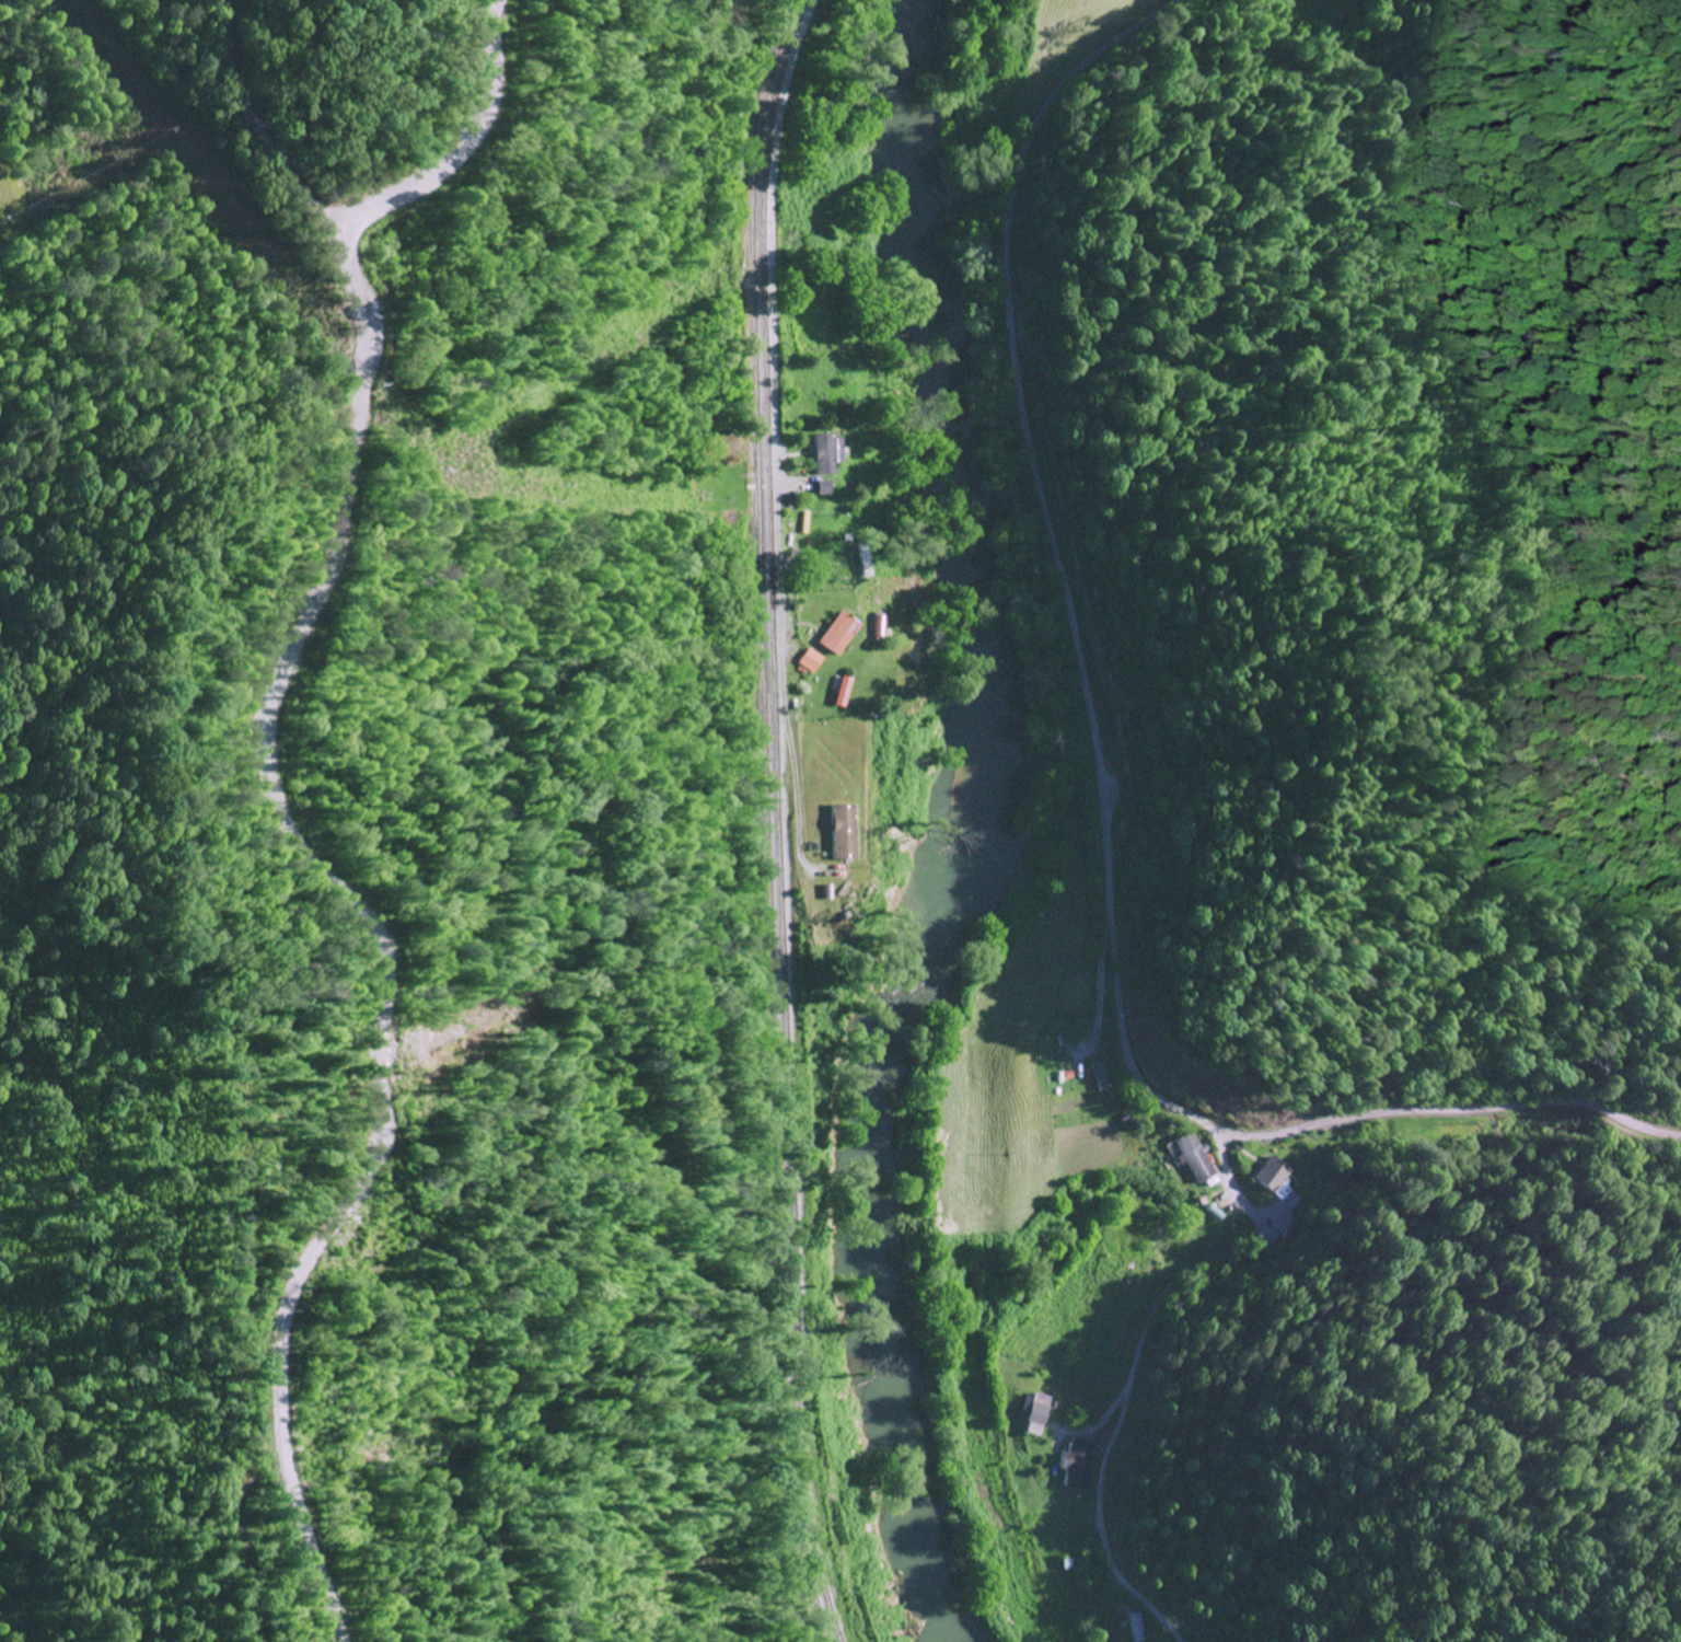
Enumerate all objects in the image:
road: (259, 128)
road: (465, 139)
road: (774, 404)
building: (825, 454)
building: (821, 488)
building: (837, 635)
building: (810, 661)
building: (842, 693)
road: (1109, 784)
railway: (781, 821)
railway: (774, 822)
river: (982, 830)
building: (842, 833)
road: (369, 927)
building: (1101, 1076)
building: (1194, 1158)
building: (1270, 1177)
road: (1170, 1286)
building: (1035, 1415)
building: (1077, 1464)
road: (1100, 1582)
building: (1137, 1628)

